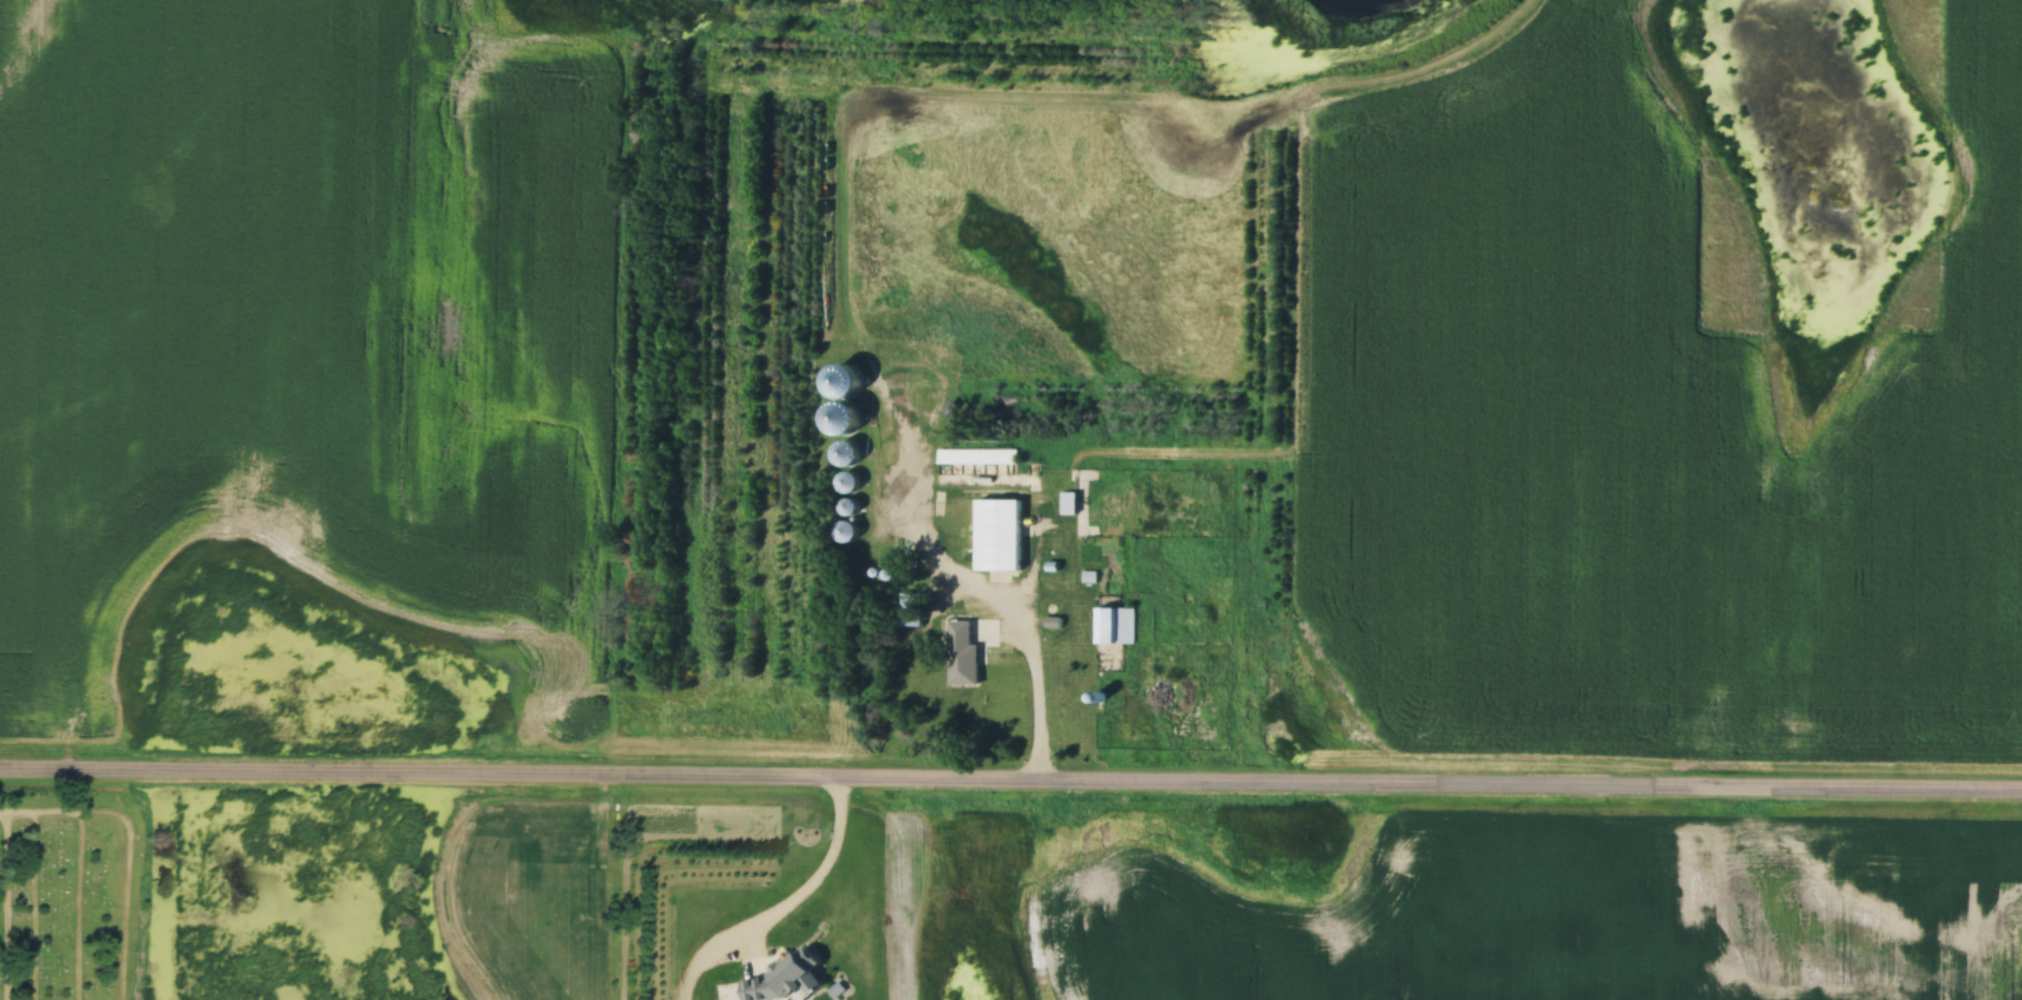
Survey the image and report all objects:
building: (847, 454)
building: (978, 456)
building: (849, 482)
building: (1069, 503)
building: (848, 531)
building: (1003, 534)
building: (911, 609)
building: (1118, 626)
building: (963, 653)
road: (1031, 658)
road: (1011, 772)
road: (131, 843)
road: (814, 867)
park: (74, 896)

